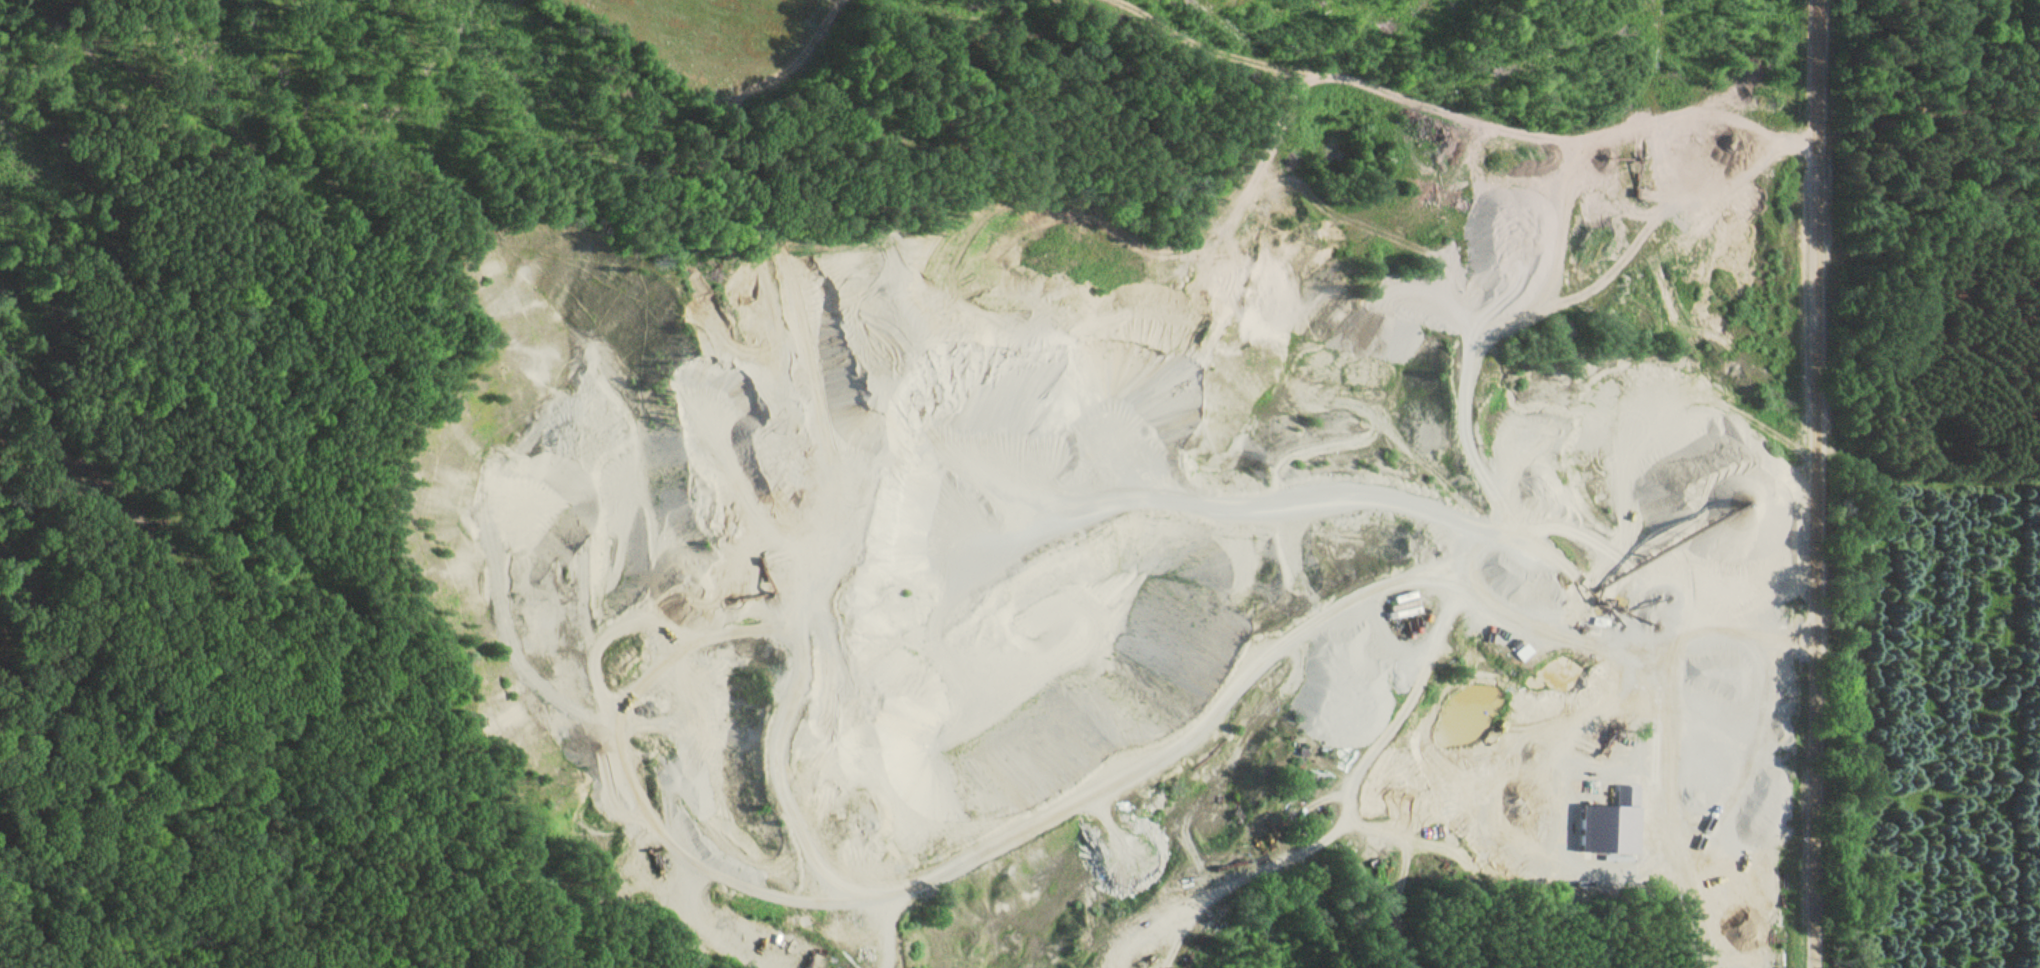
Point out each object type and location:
road: (1819, 483)
quarry: (1160, 520)
building: (1602, 622)
road: (1227, 688)
road: (845, 695)
road: (1474, 804)
building: (1607, 816)

